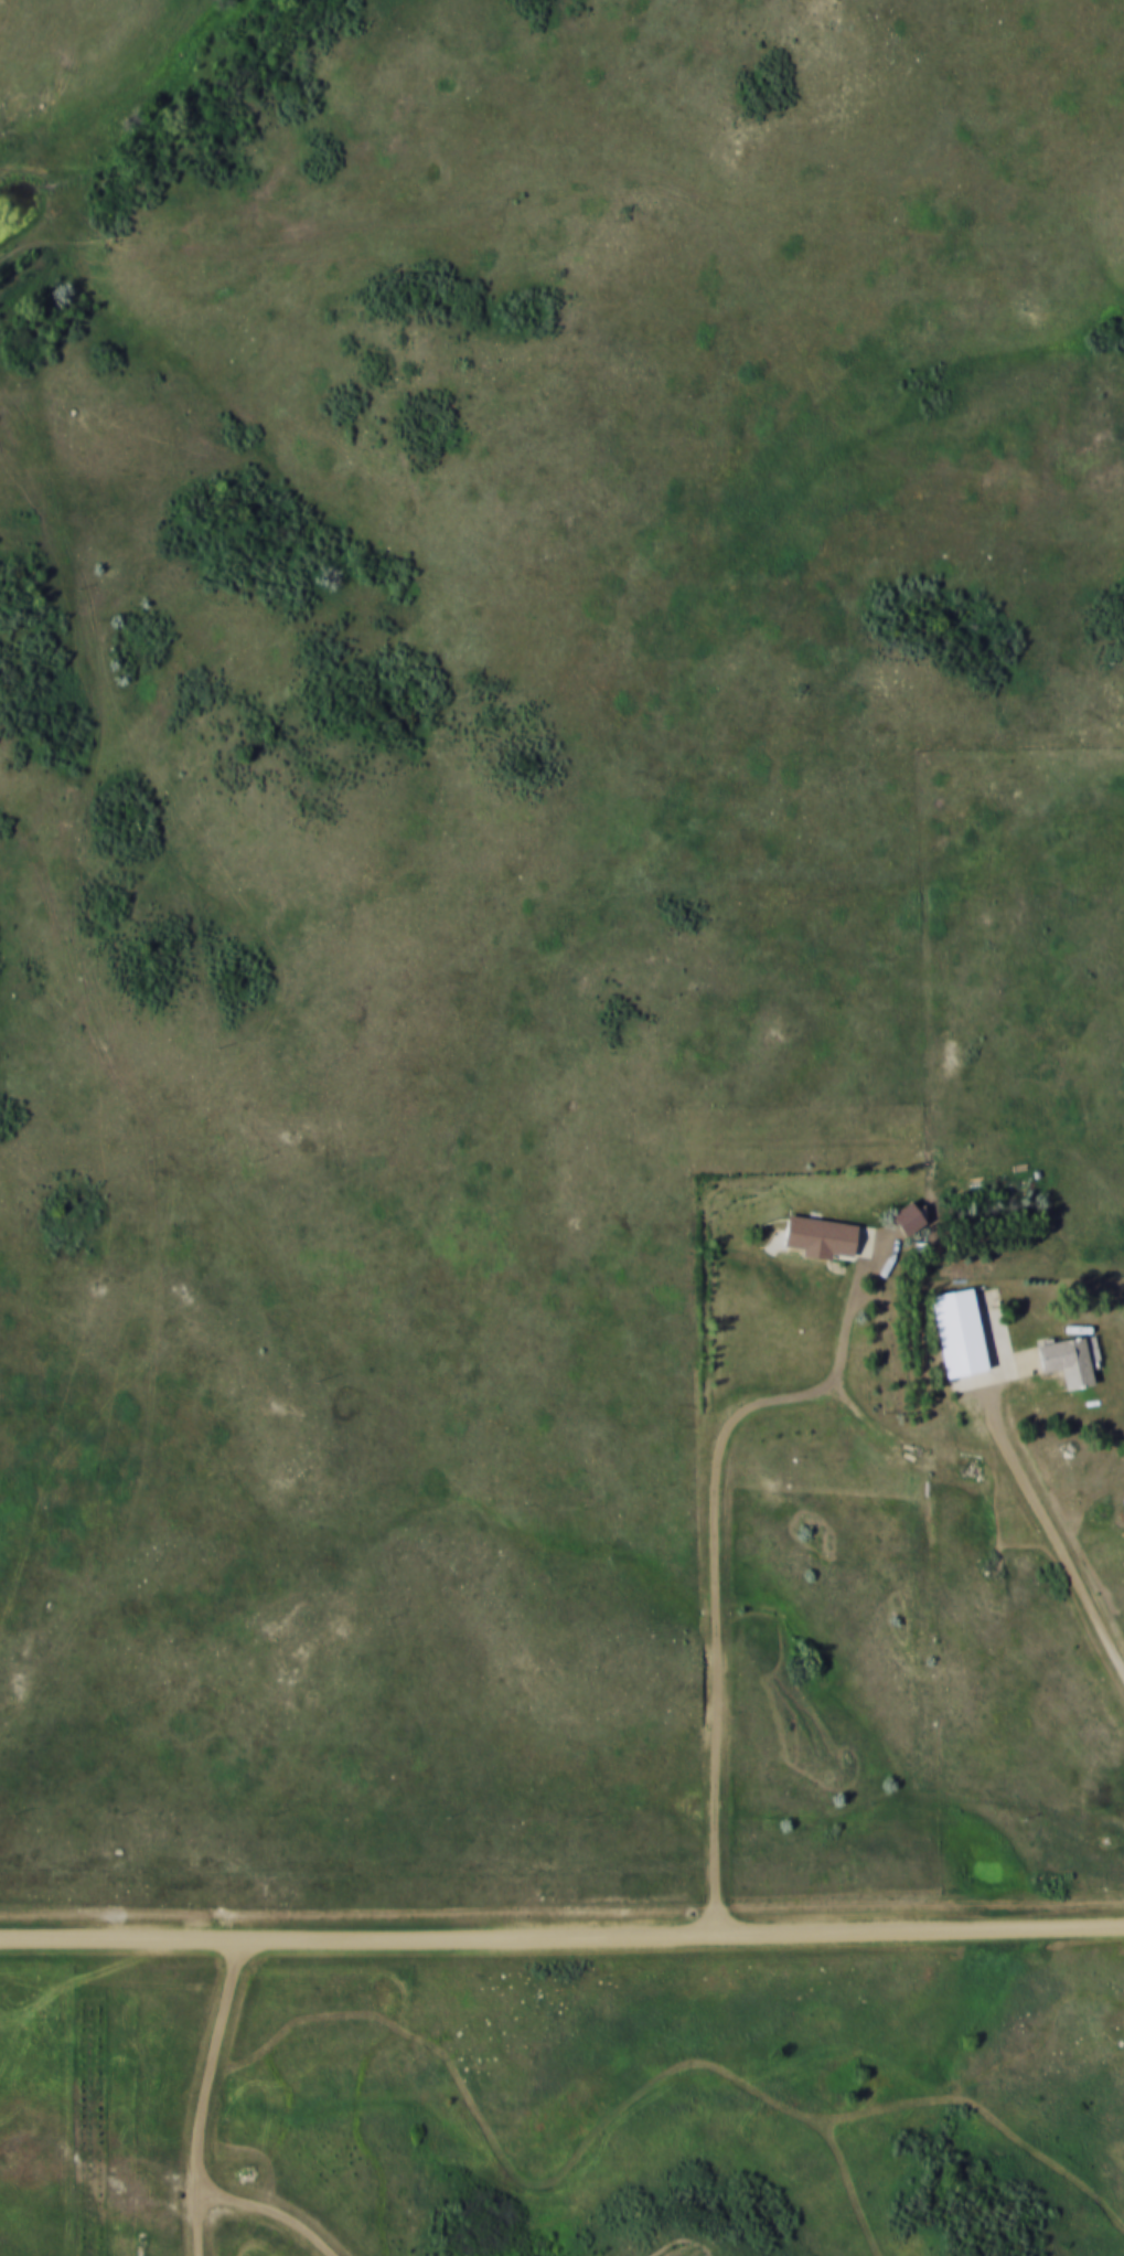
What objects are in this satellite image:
building: (820, 1237)
building: (1069, 1360)
road: (1049, 1525)
road: (721, 1561)
road: (561, 1940)

